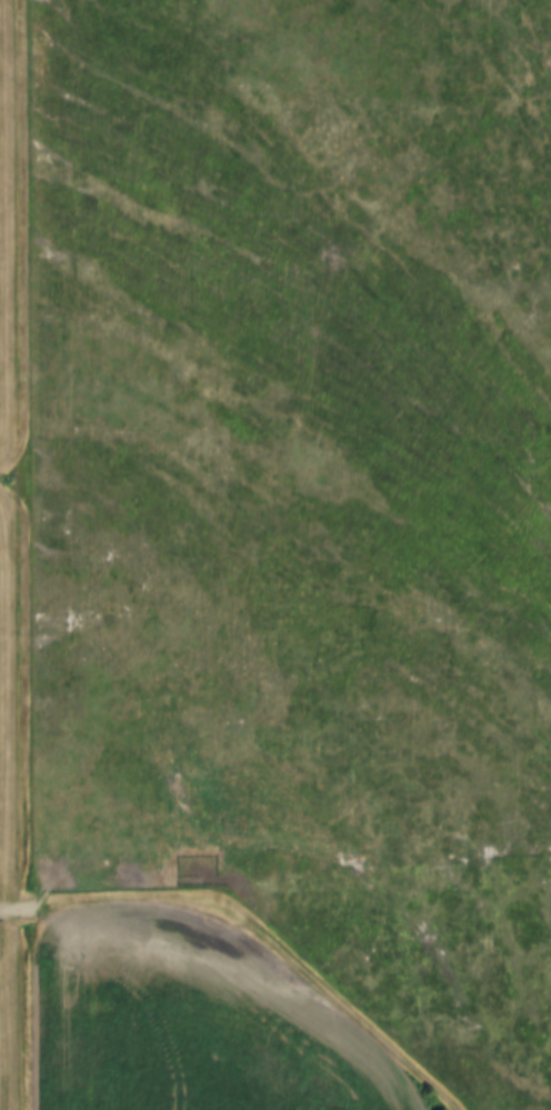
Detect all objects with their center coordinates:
road: (260, 931)

